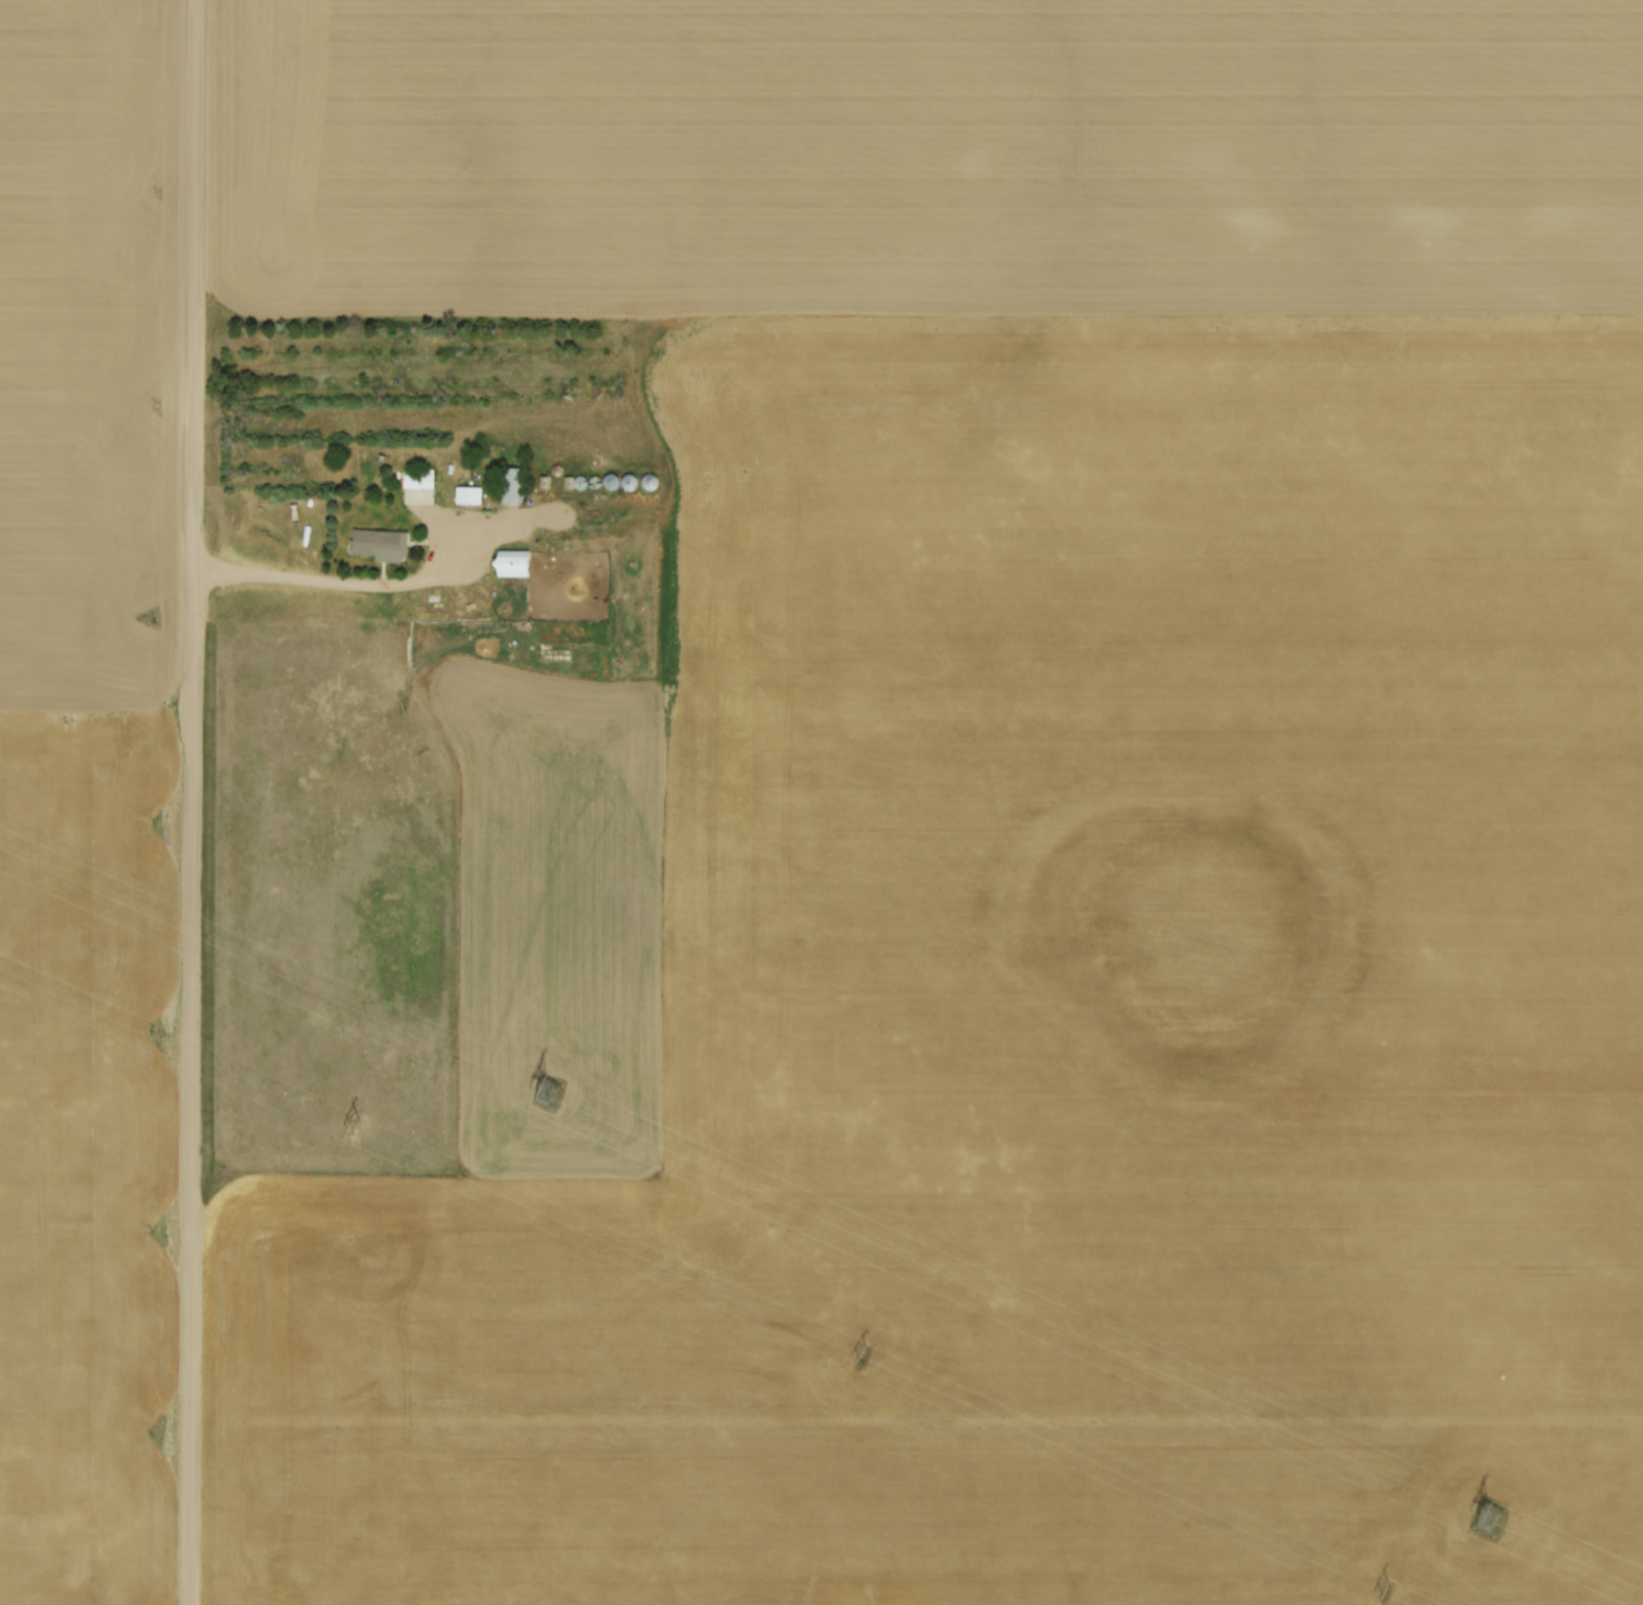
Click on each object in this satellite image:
silo: (559, 470)
building: (419, 479)
building: (546, 482)
silo: (599, 482)
silo: (614, 482)
silo: (633, 482)
silo: (650, 482)
building: (569, 483)
silo: (583, 483)
building: (513, 484)
building: (469, 494)
building: (381, 544)
building: (515, 562)
road: (362, 584)
crop: (88, 794)
road: (195, 802)
crop: (959, 824)
power tower: (544, 1091)
power tower: (349, 1123)
power tower: (861, 1356)
power tower: (1489, 1516)
power tower: (1379, 1592)

